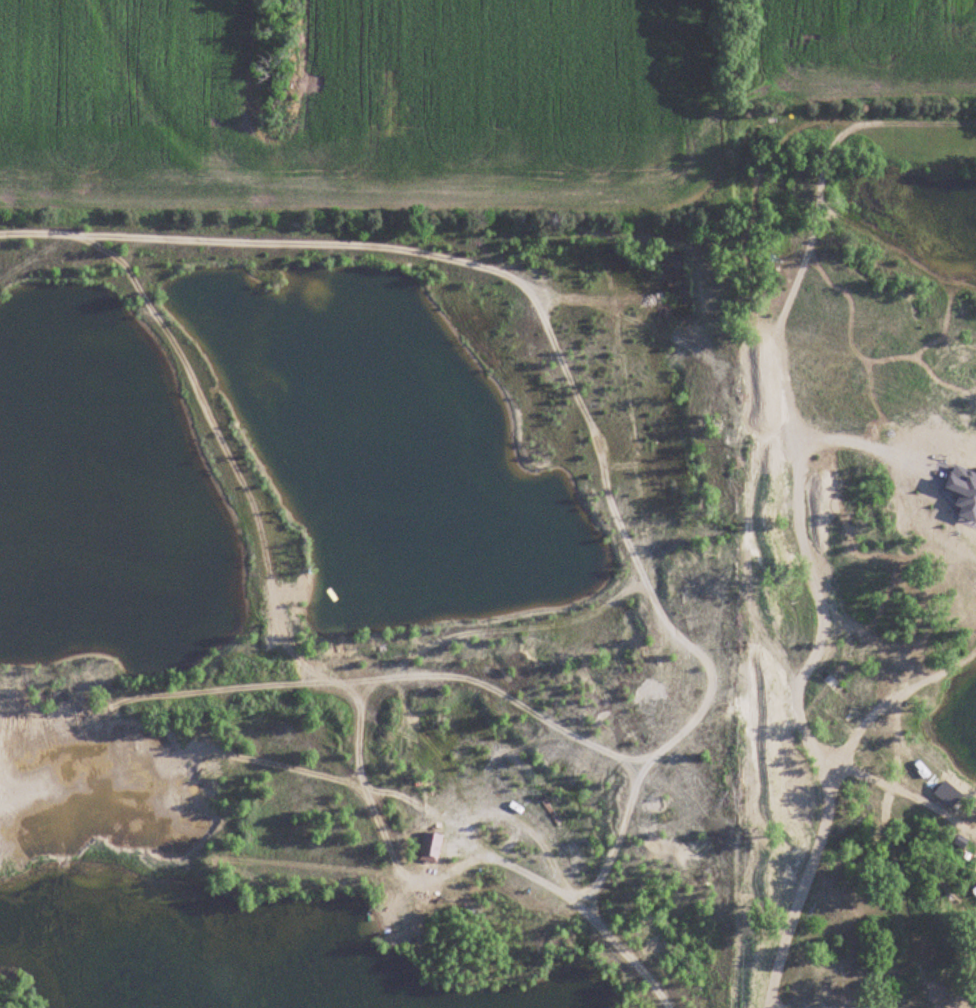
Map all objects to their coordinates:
road: (526, 272)
road: (908, 489)
road: (799, 500)
road: (945, 546)
road: (892, 699)
road: (617, 840)

